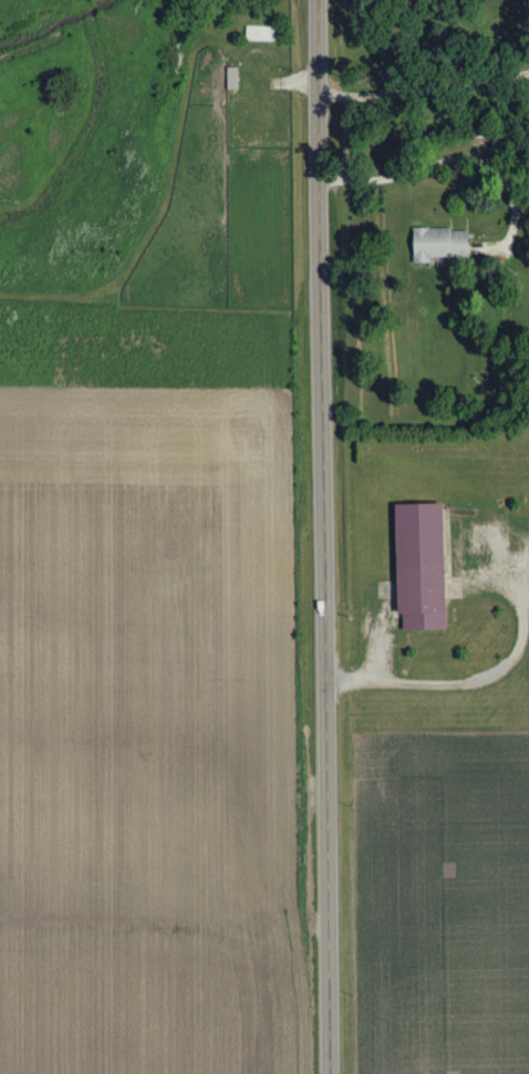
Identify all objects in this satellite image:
building: (237, 79)
road: (423, 91)
building: (446, 245)
road: (323, 536)
building: (428, 567)
road: (374, 673)

